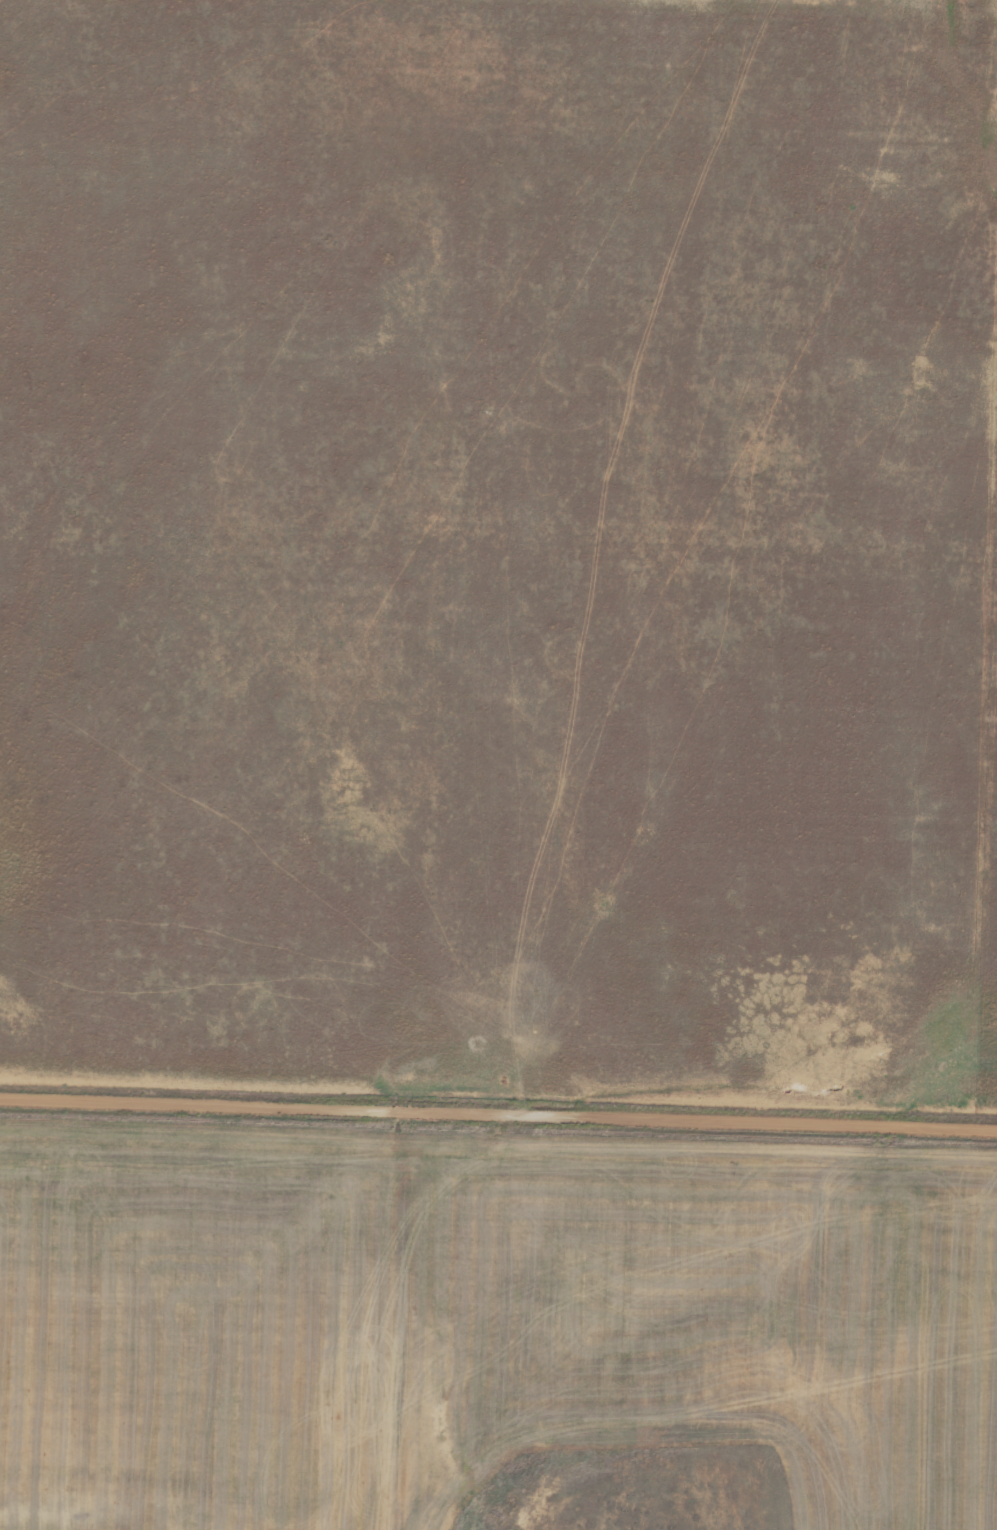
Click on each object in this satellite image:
road: (498, 1112)

